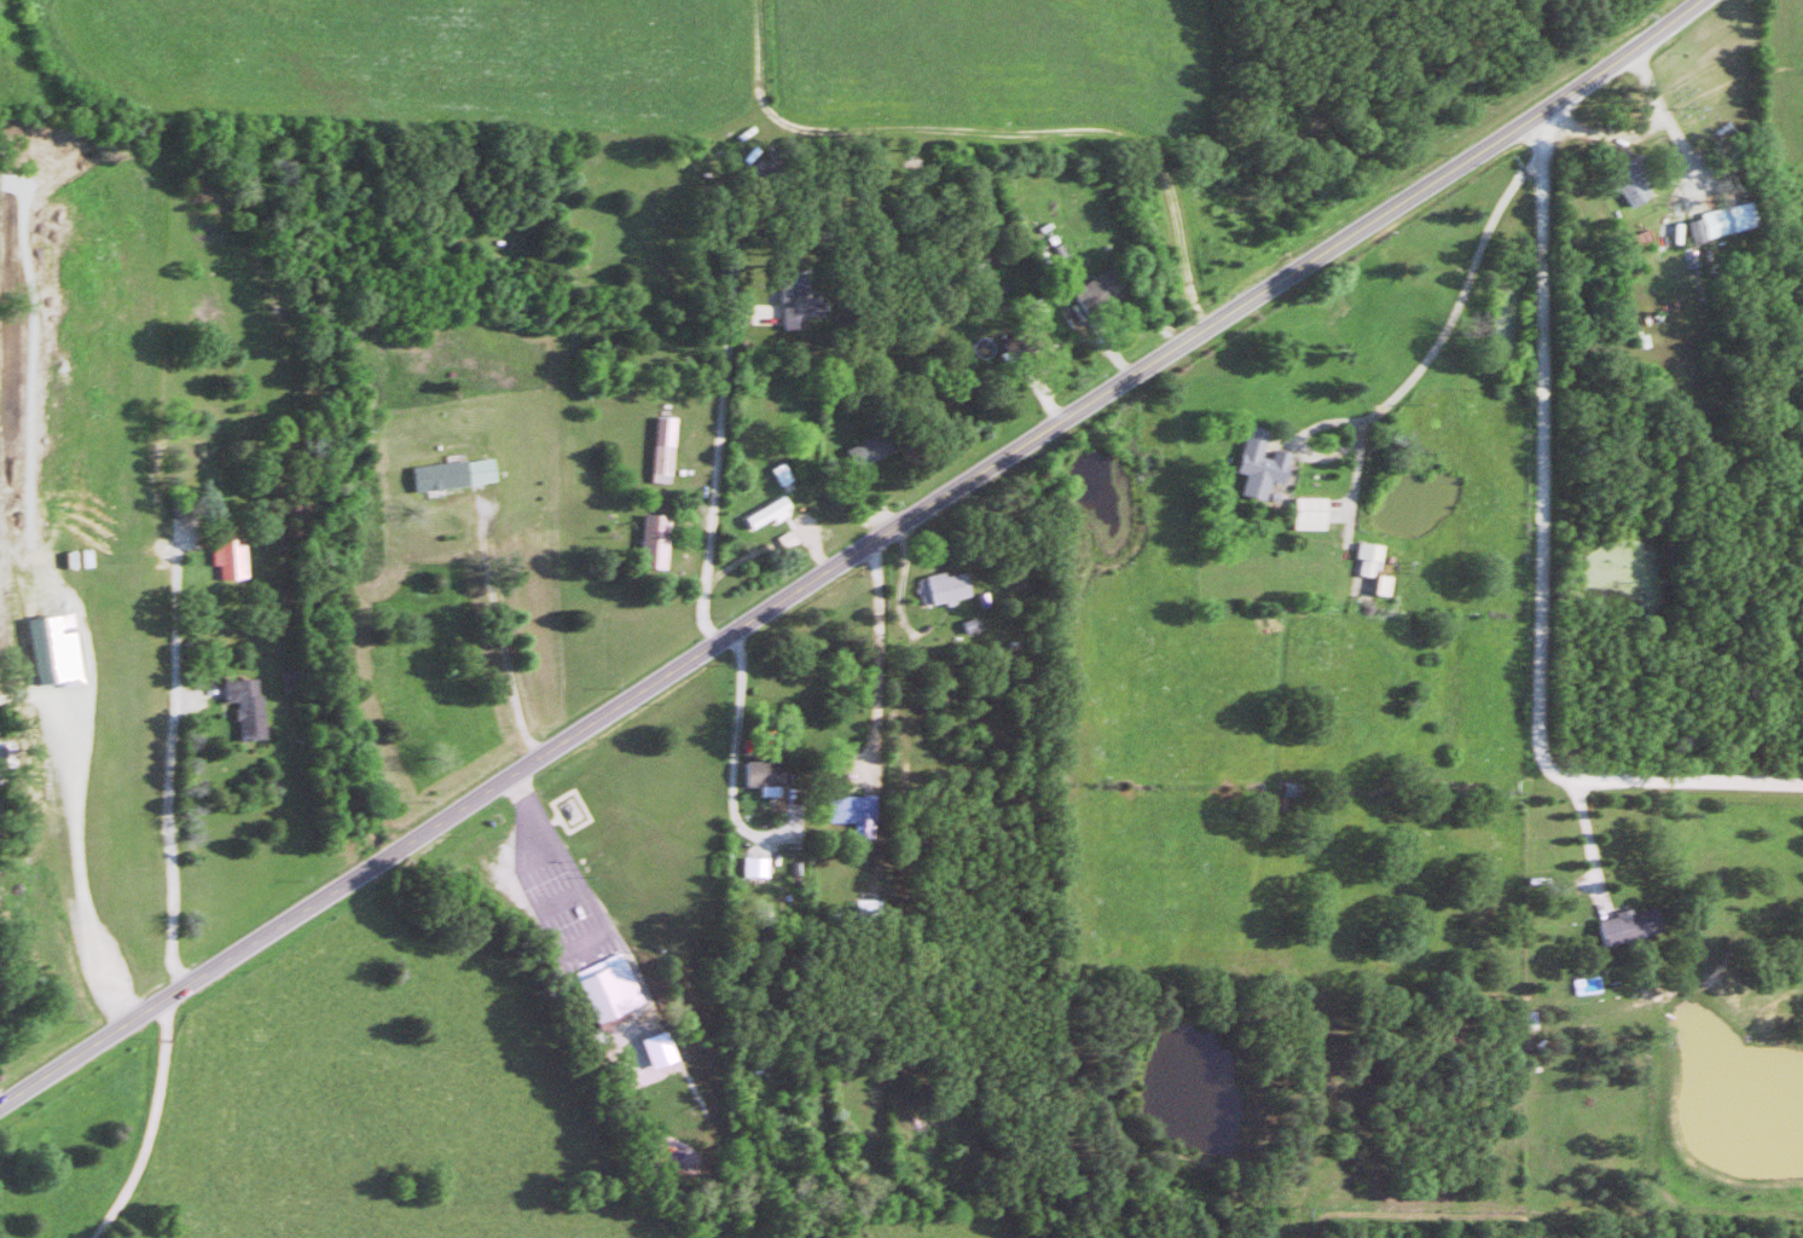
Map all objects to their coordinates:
building: (1640, 179)
building: (1728, 219)
building: (1106, 291)
building: (802, 300)
road: (1456, 308)
building: (669, 444)
building: (877, 447)
road: (719, 450)
building: (1266, 463)
building: (460, 472)
building: (1316, 511)
building: (773, 513)
building: (660, 539)
building: (233, 554)
road: (851, 554)
building: (1374, 556)
road: (1542, 567)
building: (953, 585)
road: (499, 621)
building: (60, 649)
road: (877, 664)
road: (738, 700)
building: (250, 705)
building: (770, 775)
building: (860, 812)
road: (175, 828)
road: (1592, 852)
building: (761, 866)
building: (1634, 924)
building: (614, 988)
building: (665, 1048)
road: (155, 1128)

